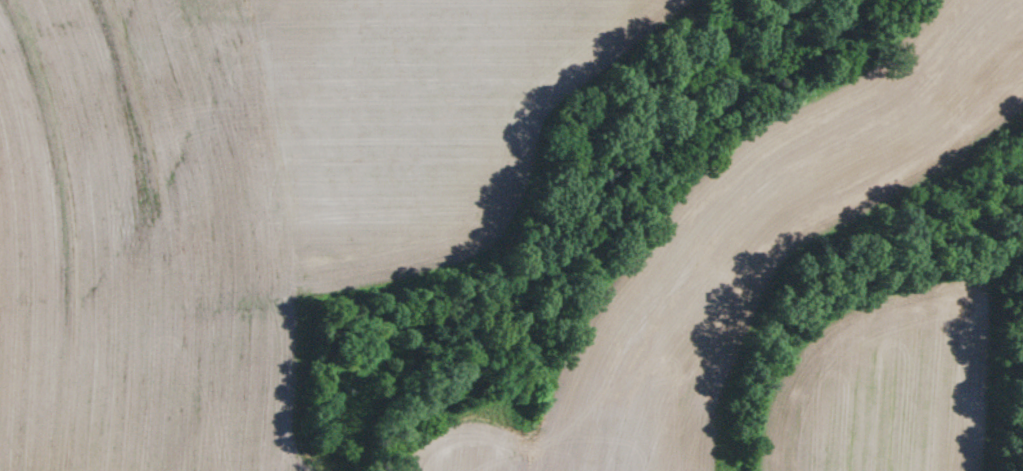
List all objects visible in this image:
road: (338, 421)

